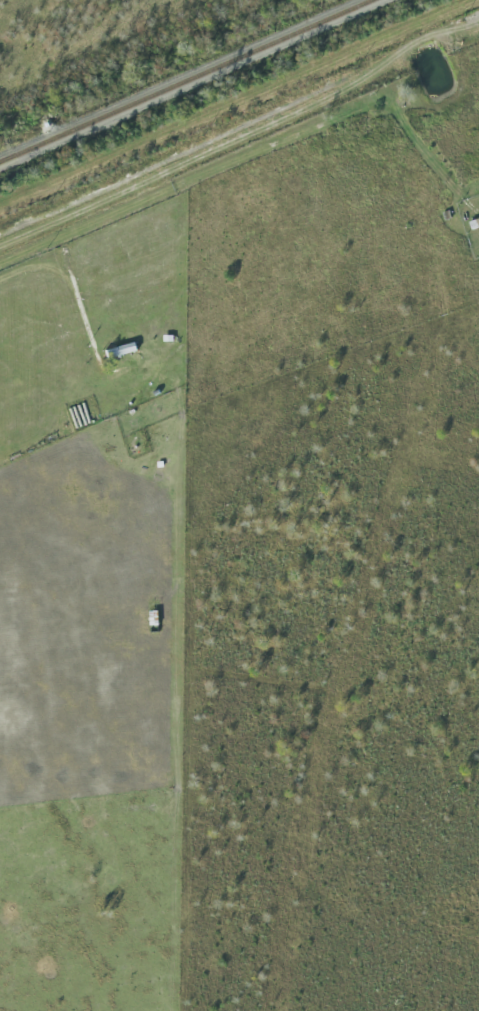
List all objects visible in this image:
railway: (183, 79)

